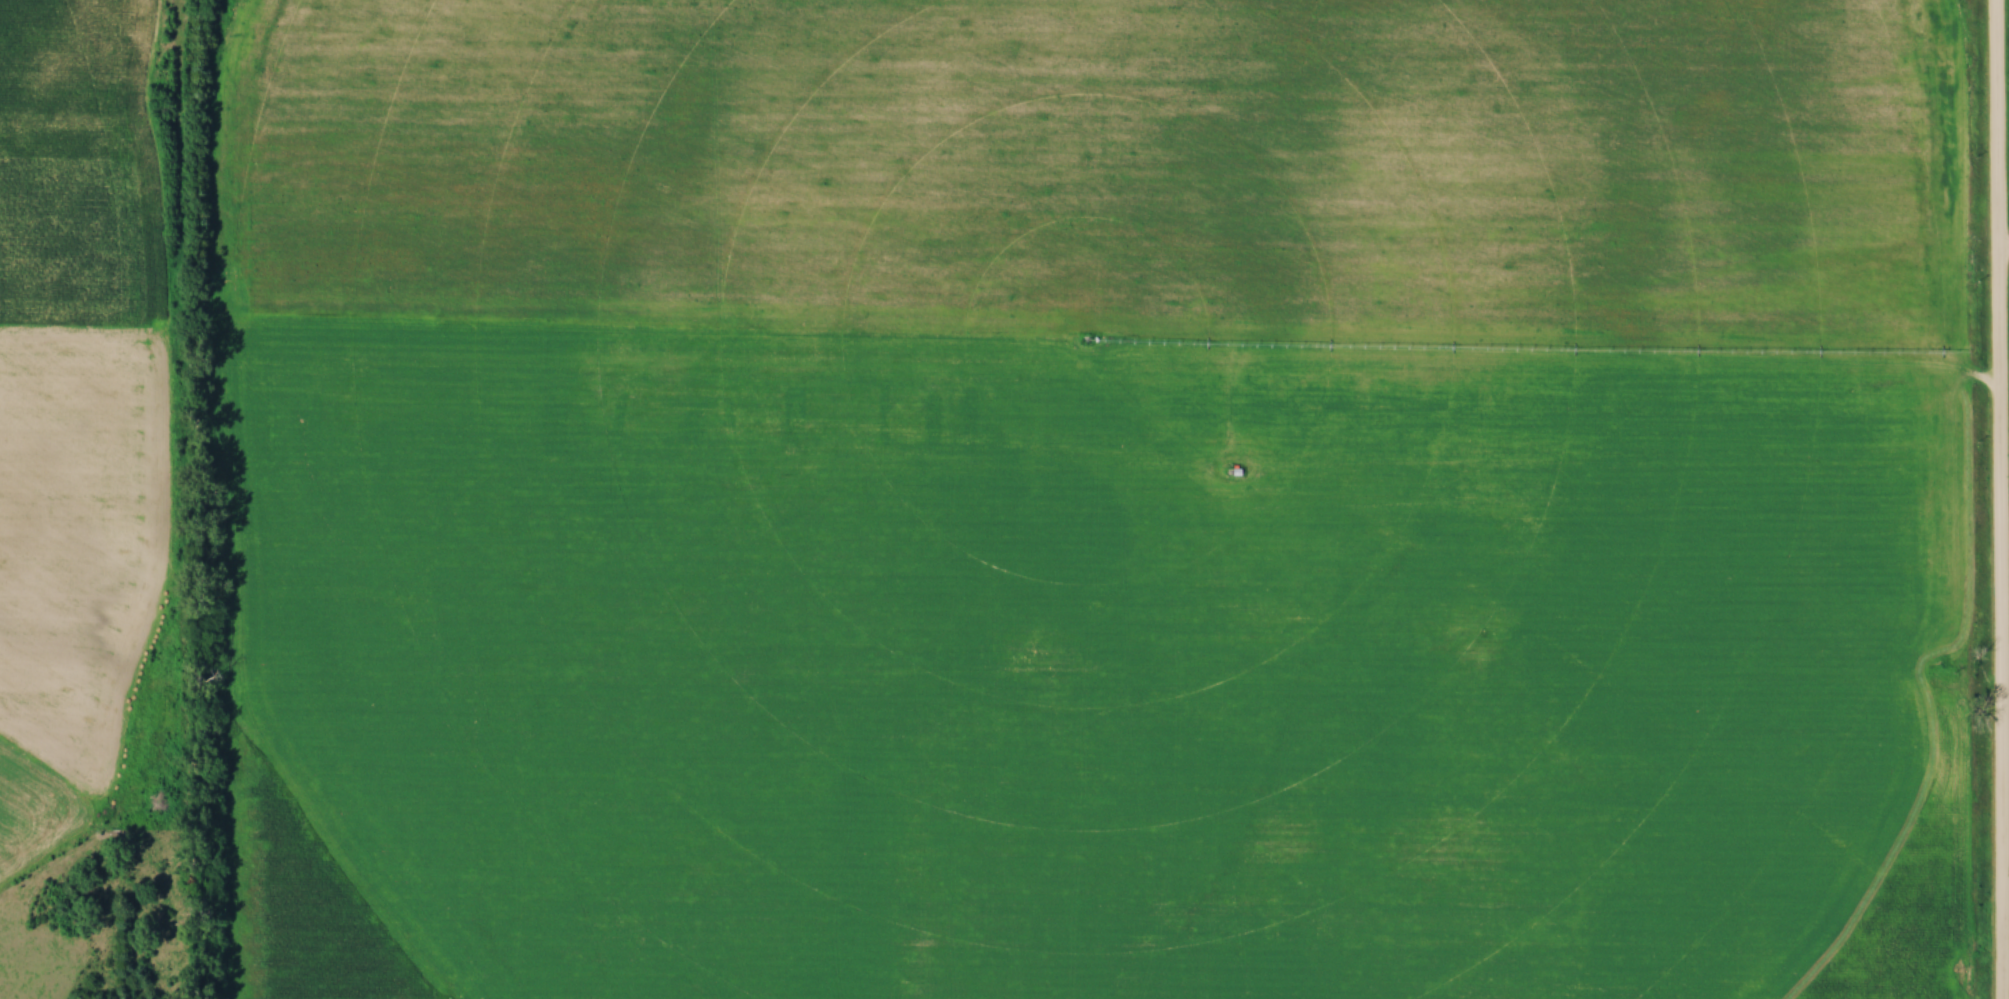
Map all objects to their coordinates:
road: (2003, 499)

